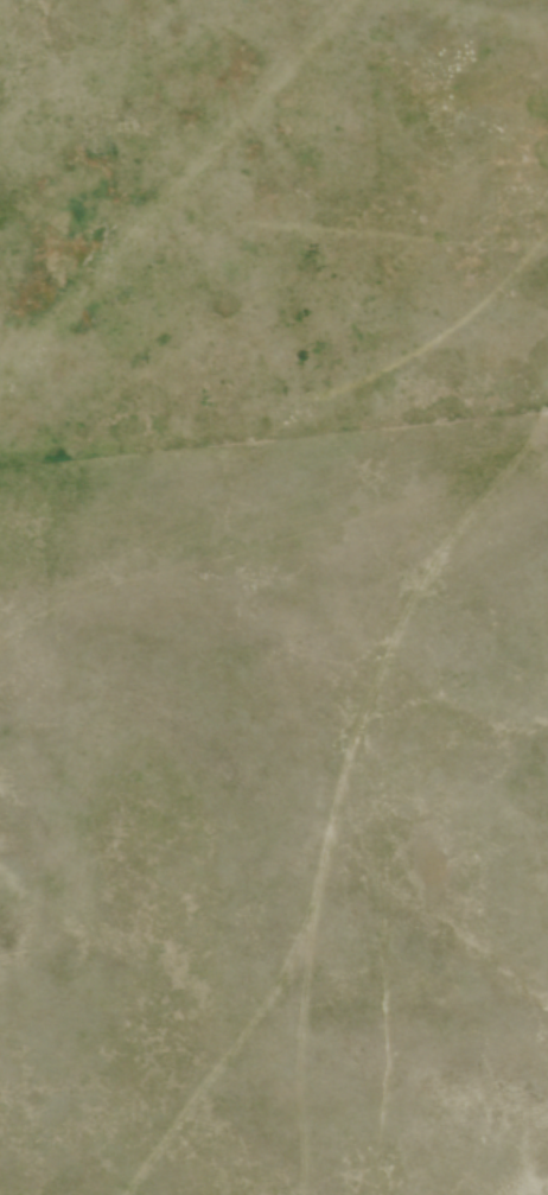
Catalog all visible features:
airport runway: (482, 18)
airport runway: (176, 191)

